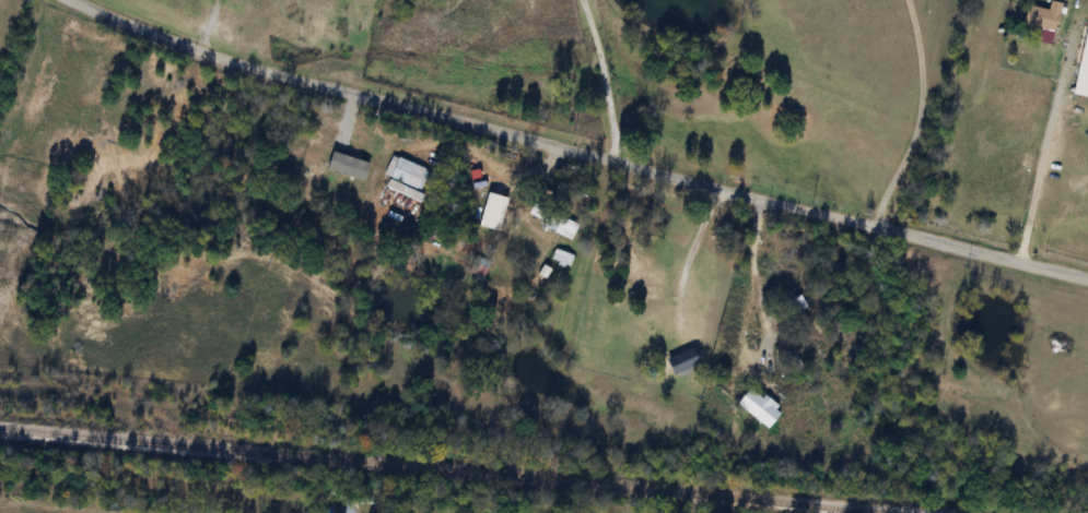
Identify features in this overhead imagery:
building: (1041, 16)
road: (603, 80)
road: (920, 117)
road: (1044, 141)
road: (574, 151)
building: (406, 178)
building: (559, 223)
road: (687, 261)
building: (477, 266)
road: (754, 275)
building: (642, 281)
building: (791, 303)
building: (680, 360)
building: (757, 407)
railway: (440, 472)

